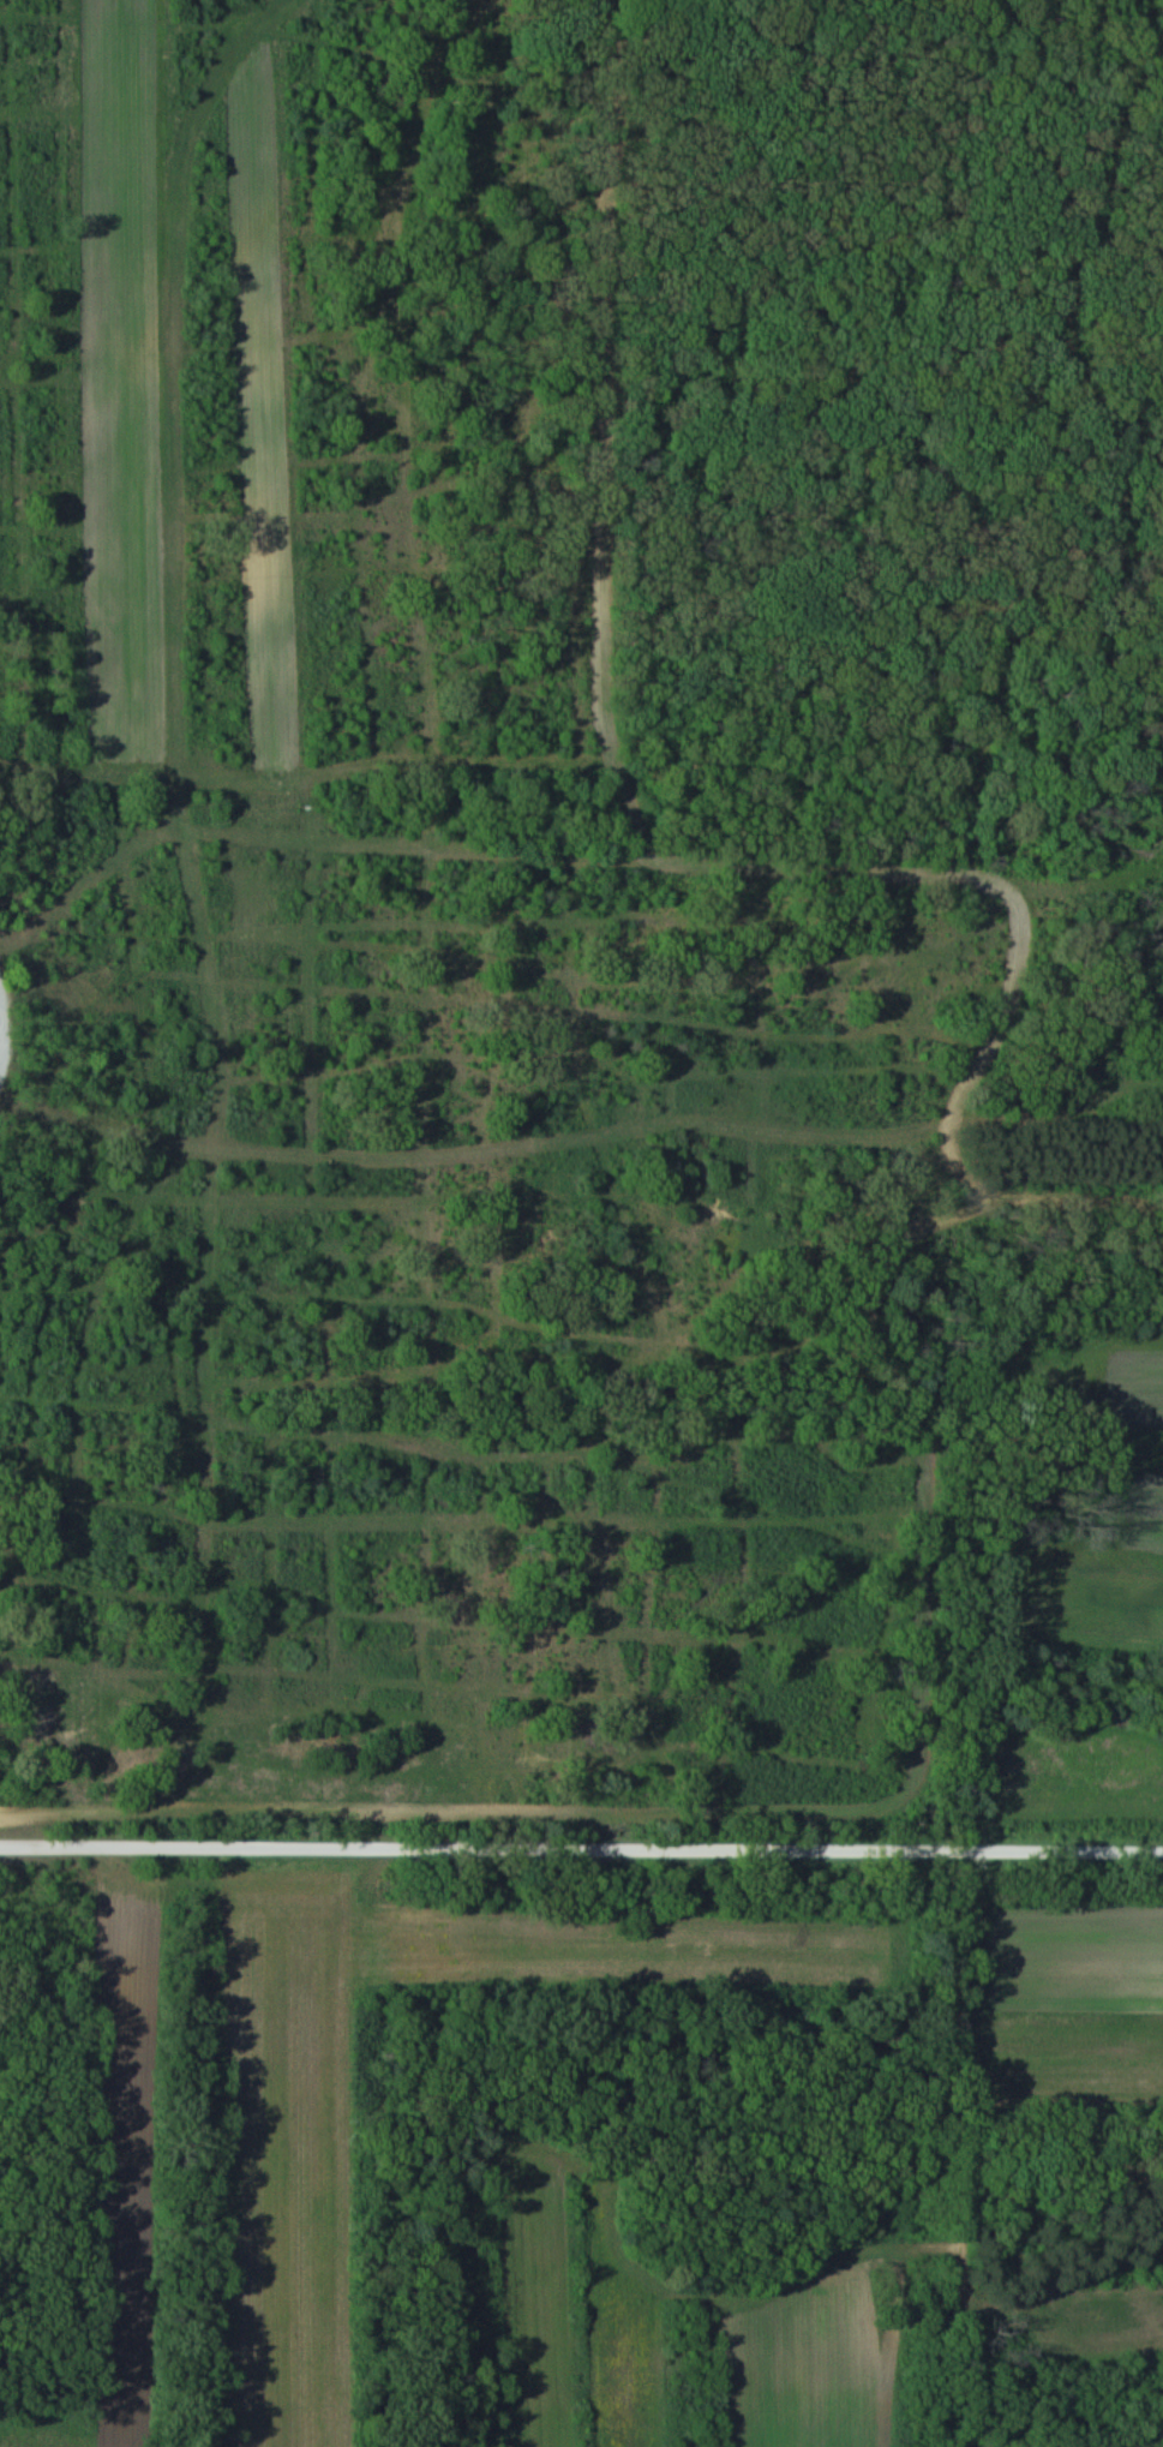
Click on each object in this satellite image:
road: (581, 1847)

